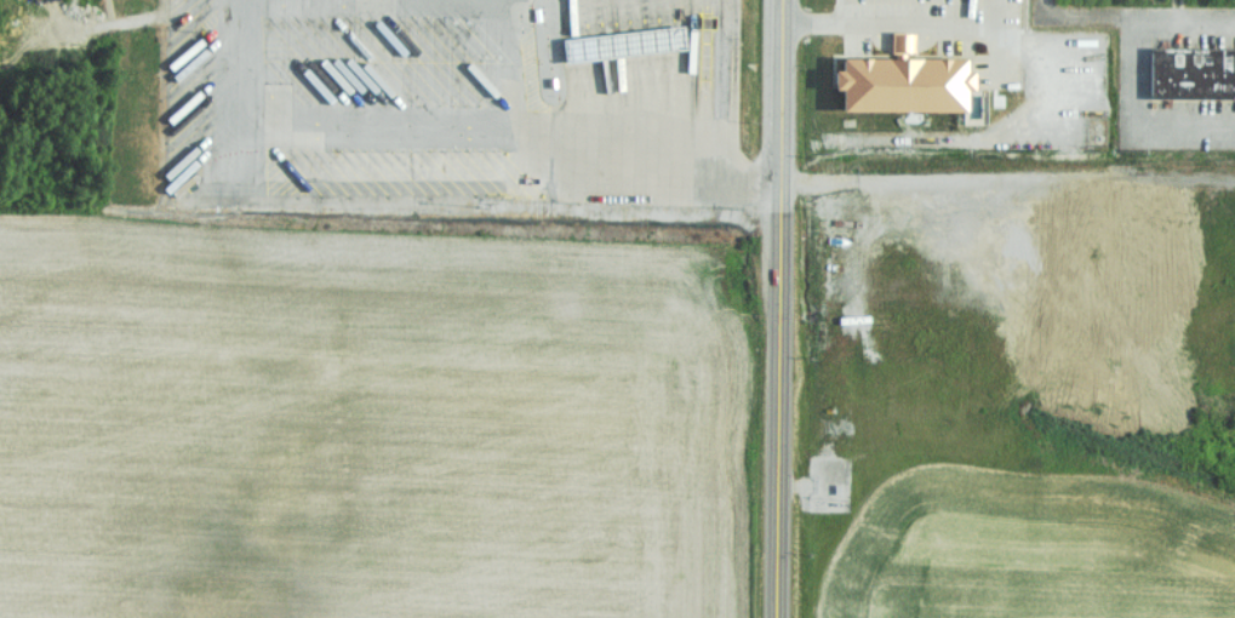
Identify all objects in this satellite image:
road: (890, 22)
building: (630, 45)
building: (1191, 73)
road: (1132, 79)
building: (898, 82)
road: (551, 174)
road: (779, 308)

